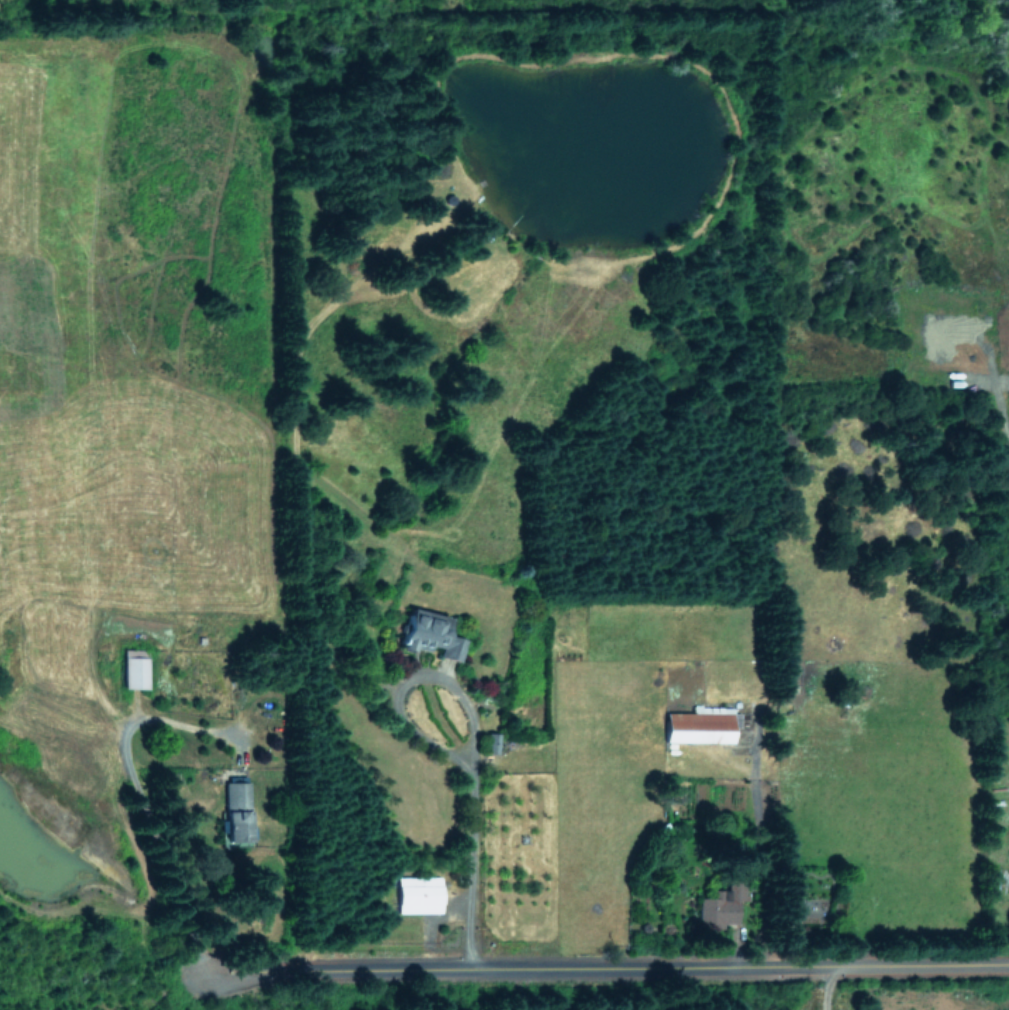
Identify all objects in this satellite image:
building: (426, 636)
building: (132, 669)
building: (700, 724)
road: (475, 737)
road: (143, 803)
building: (234, 810)
building: (417, 894)
building: (722, 905)
road: (603, 970)
road: (827, 988)

